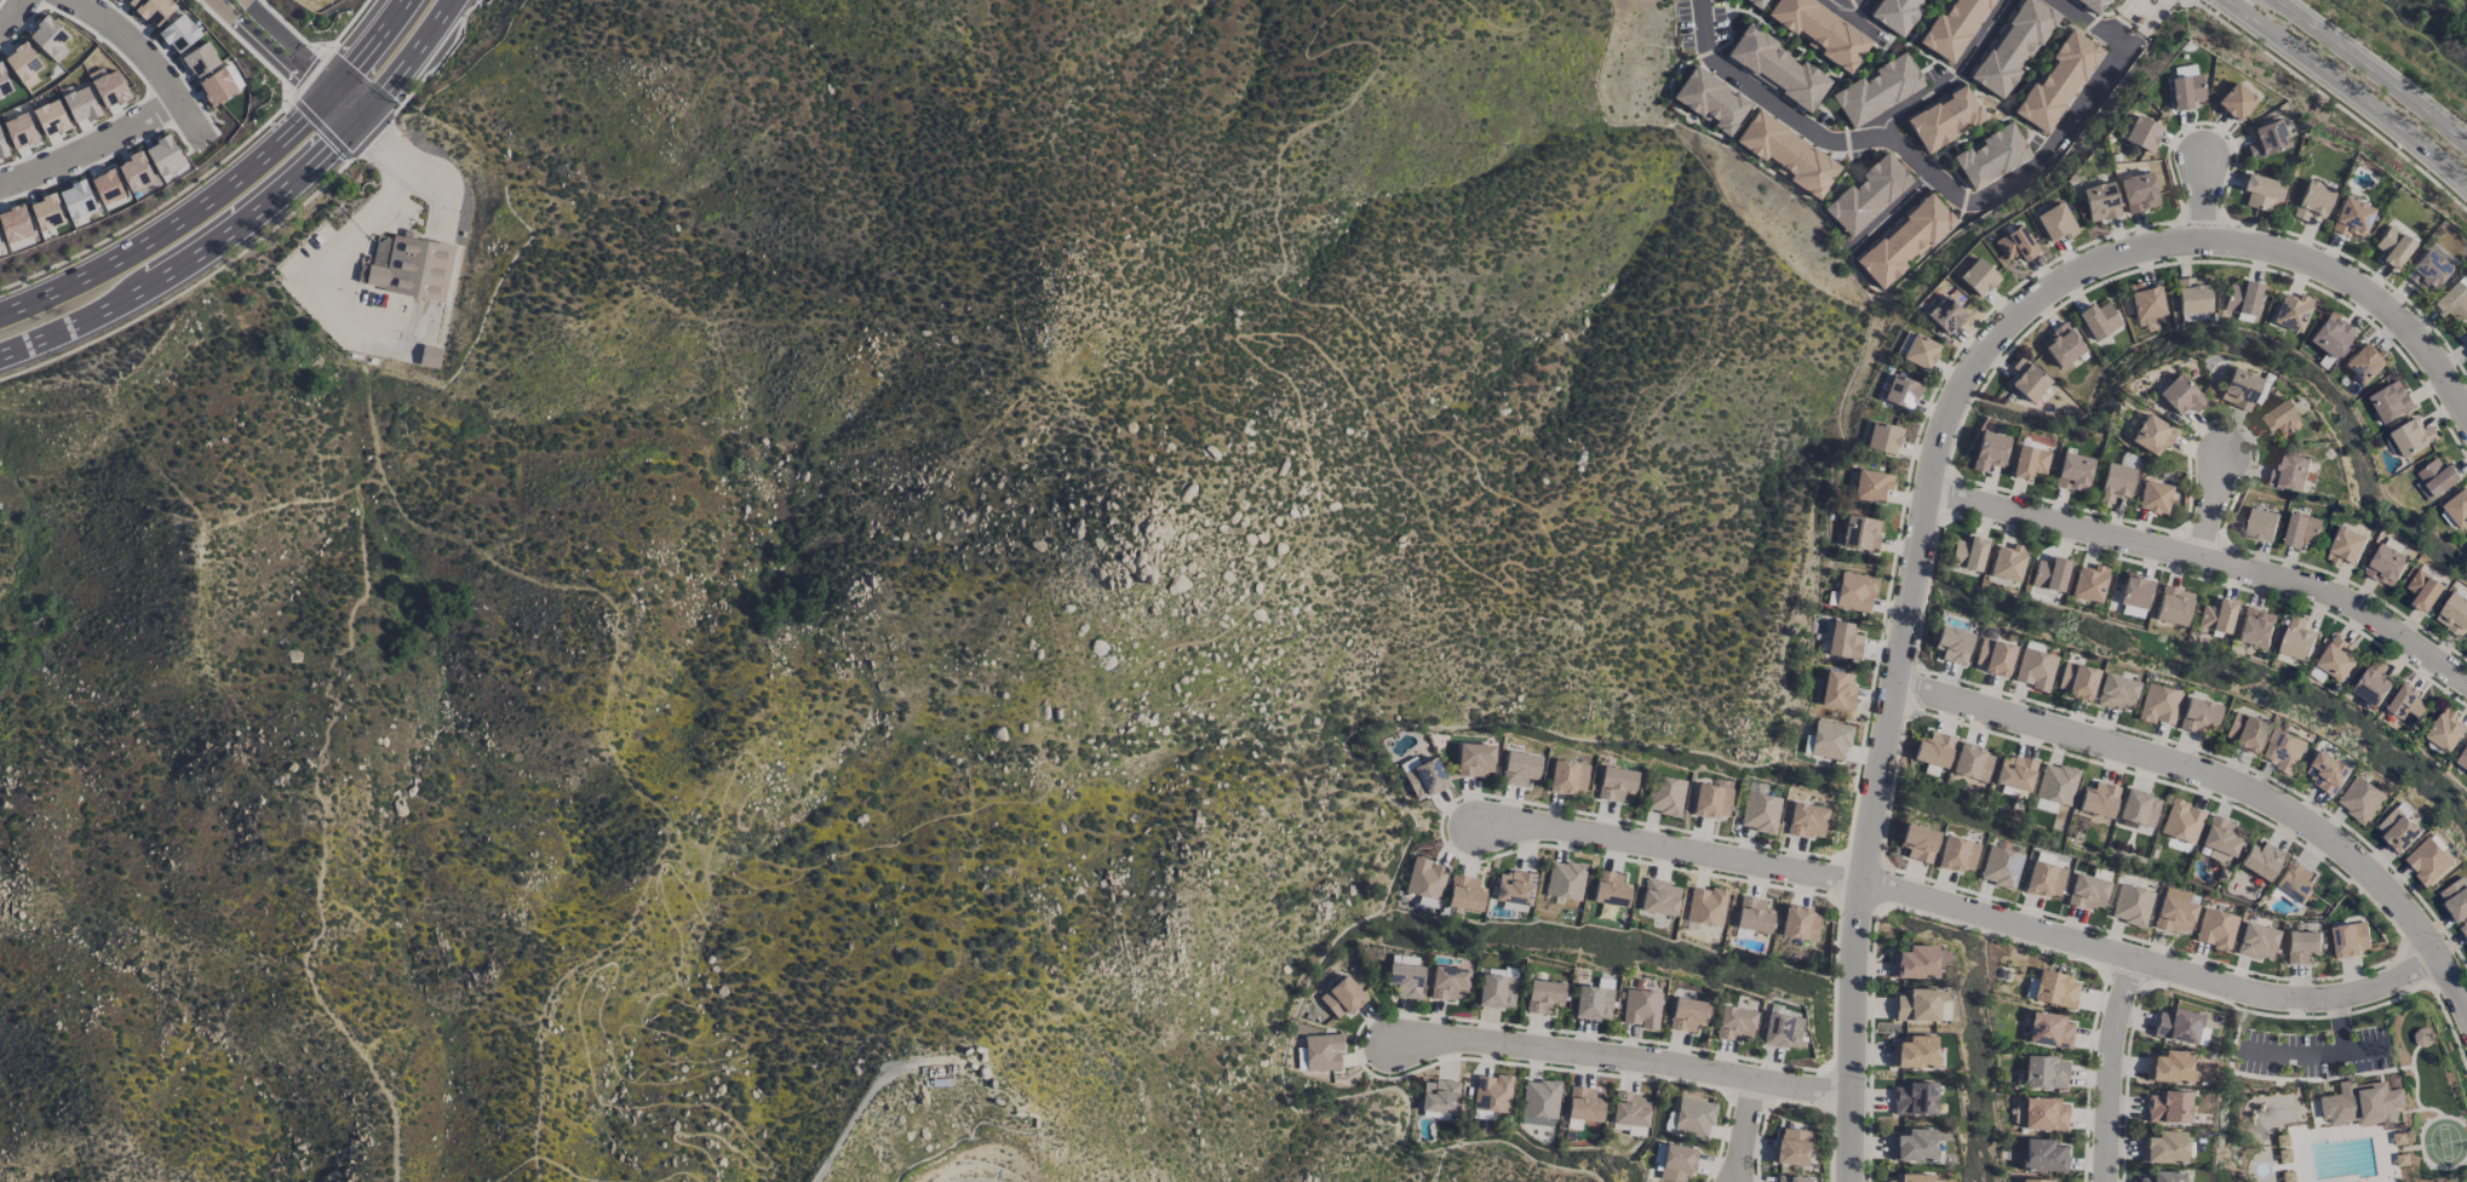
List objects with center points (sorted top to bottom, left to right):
road: (2186, 0)
building: (127, 2)
building: (1755, 2)
road: (2462, 4)
building: (2090, 5)
road: (11, 10)
road: (1846, 10)
building: (154, 11)
building: (1895, 15)
road: (2140, 16)
building: (2138, 19)
road: (2087, 22)
road: (344, 25)
building: (1952, 27)
road: (287, 28)
road: (1508, 29)
building: (1819, 30)
building: (178, 33)
road: (2417, 33)
building: (48, 39)
road: (245, 46)
building: (2012, 46)
road: (140, 57)
road: (304, 57)
road: (442, 57)
building: (199, 59)
road: (281, 62)
building: (23, 65)
building: (1775, 67)
building: (1676, 68)
road: (2373, 70)
road: (304, 71)
road: (1951, 76)
building: (2054, 80)
building: (1668, 82)
building: (4, 84)
building: (217, 86)
traffic signals: (338, 86)
building: (108, 87)
road: (2347, 90)
building: (1876, 91)
building: (2184, 91)
traffic signals: (325, 101)
building: (1710, 101)
road: (2330, 101)
building: (2232, 102)
building: (80, 104)
park: (1990, 107)
building: (50, 117)
traffic signals: (357, 117)
building: (1944, 119)
road: (317, 127)
building: (19, 131)
road: (372, 132)
building: (2141, 133)
building: (2265, 139)
road: (88, 143)
road: (383, 147)
building: (2, 148)
building: (1785, 154)
building: (162, 155)
building: (1989, 155)
road: (1918, 163)
building: (134, 171)
road: (223, 185)
building: (105, 187)
building: (2138, 191)
building: (2257, 191)
building: (1868, 193)
building: (75, 200)
road: (2202, 200)
building: (2099, 201)
building: (2312, 201)
road: (154, 207)
building: (45, 212)
road: (1892, 212)
road: (252, 214)
building: (2351, 218)
building: (2054, 223)
building: (13, 224)
building: (1903, 240)
building: (2014, 245)
building: (2392, 247)
building: (414, 269)
building: (2427, 270)
building: (1977, 277)
road: (185, 286)
building: (2192, 294)
building: (2242, 298)
building: (2452, 299)
building: (2145, 303)
building: (2291, 312)
building: (1944, 315)
building: (2098, 320)
building: (2330, 335)
building: (2466, 337)
road: (1264, 342)
building: (2060, 345)
building: (1920, 351)
building: (430, 357)
building: (2364, 363)
building: (2026, 379)
building: (2238, 389)
building: (1899, 391)
building: (2180, 395)
building: (2391, 401)
building: (2278, 419)
building: (2151, 435)
building: (1881, 437)
building: (2414, 440)
building: (1989, 451)
building: (2029, 461)
building: (2289, 470)
building: (2072, 472)
road: (1932, 474)
building: (2437, 476)
building: (2115, 482)
building: (1870, 484)
building: (2153, 497)
building: (2457, 507)
road: (2211, 509)
building: (2261, 524)
building: (2301, 529)
building: (1860, 533)
building: (2346, 546)
building: (1967, 553)
road: (2208, 562)
building: (2007, 563)
building: (2386, 564)
building: (2049, 574)
building: (2089, 584)
building: (2423, 590)
building: (1854, 592)
building: (2134, 592)
building: (2173, 606)
building: (2454, 614)
building: (2216, 616)
building: (2255, 626)
building: (2296, 638)
building: (1843, 641)
building: (1951, 644)
building: (1992, 656)
building: (2336, 659)
building: (2033, 669)
building: (2076, 681)
building: (2373, 682)
building: (1836, 690)
building: (2116, 692)
building: (2406, 704)
building: (2158, 705)
building: (2197, 716)
building: (2444, 730)
building: (2243, 731)
building: (1829, 740)
building: (1933, 750)
building: (2282, 750)
building: (2462, 757)
building: (1474, 759)
building: (1972, 763)
building: (1519, 768)
building: (2014, 771)
building: (2327, 771)
building: (1567, 778)
building: (1424, 779)
building: (1614, 784)
building: (2055, 784)
road: (2221, 784)
building: (1664, 796)
building: (2359, 798)
building: (2098, 799)
building: (1710, 801)
building: (2044, 805)
building: (2138, 808)
building: (1759, 813)
building: (1806, 820)
building: (2181, 821)
building: (2397, 830)
building: (2220, 839)
building: (1917, 842)
building: (2179, 845)
building: (1956, 854)
building: (2260, 860)
building: (2427, 860)
building: (1998, 867)
building: (1424, 878)
building: (2043, 879)
building: (1564, 880)
building: (2294, 882)
building: (1513, 888)
building: (1610, 889)
building: (2087, 891)
building: (1464, 894)
building: (1658, 897)
building: (2455, 897)
building: (2130, 905)
building: (1704, 906)
road: (1964, 911)
building: (2173, 911)
building: (1752, 914)
building: (1800, 923)
building: (2214, 929)
building: (2463, 930)
building: (2350, 939)
building: (2255, 941)
building: (2301, 946)
building: (1914, 963)
building: (1405, 980)
building: (1448, 983)
building: (2055, 989)
building: (1496, 991)
building: (1543, 995)
building: (1341, 998)
building: (1593, 1003)
building: (1916, 1005)
building: (1640, 1008)
building: (1687, 1014)
building: (1734, 1023)
building: (2176, 1025)
road: (2336, 1025)
road: (580, 1026)
building: (1780, 1031)
building: (2049, 1031)
building: (2421, 1037)
road: (619, 1042)
road: (2359, 1048)
building: (1914, 1051)
building: (1321, 1052)
road: (2293, 1052)
road: (1623, 1058)
building: (2168, 1066)
road: (2109, 1069)
building: (2044, 1072)
building: (1491, 1094)
building: (1439, 1096)
building: (1914, 1098)
building: (1538, 1102)
building: (2362, 1103)
building: (1583, 1104)
building: (2167, 1107)
building: (1628, 1109)
building: (2043, 1114)
road: (853, 1118)
building: (1692, 1118)
road: (1744, 1131)
park: (2443, 1141)
building: (1912, 1144)
building: (1790, 1147)
building: (2163, 1147)
building: (2042, 1155)
building: (1657, 1157)
road: (557, 1164)
building: (1675, 1164)
road: (677, 1170)
building: (1911, 1177)
building: (2158, 1177)
building: (1790, 1178)
building: (2037, 1181)

